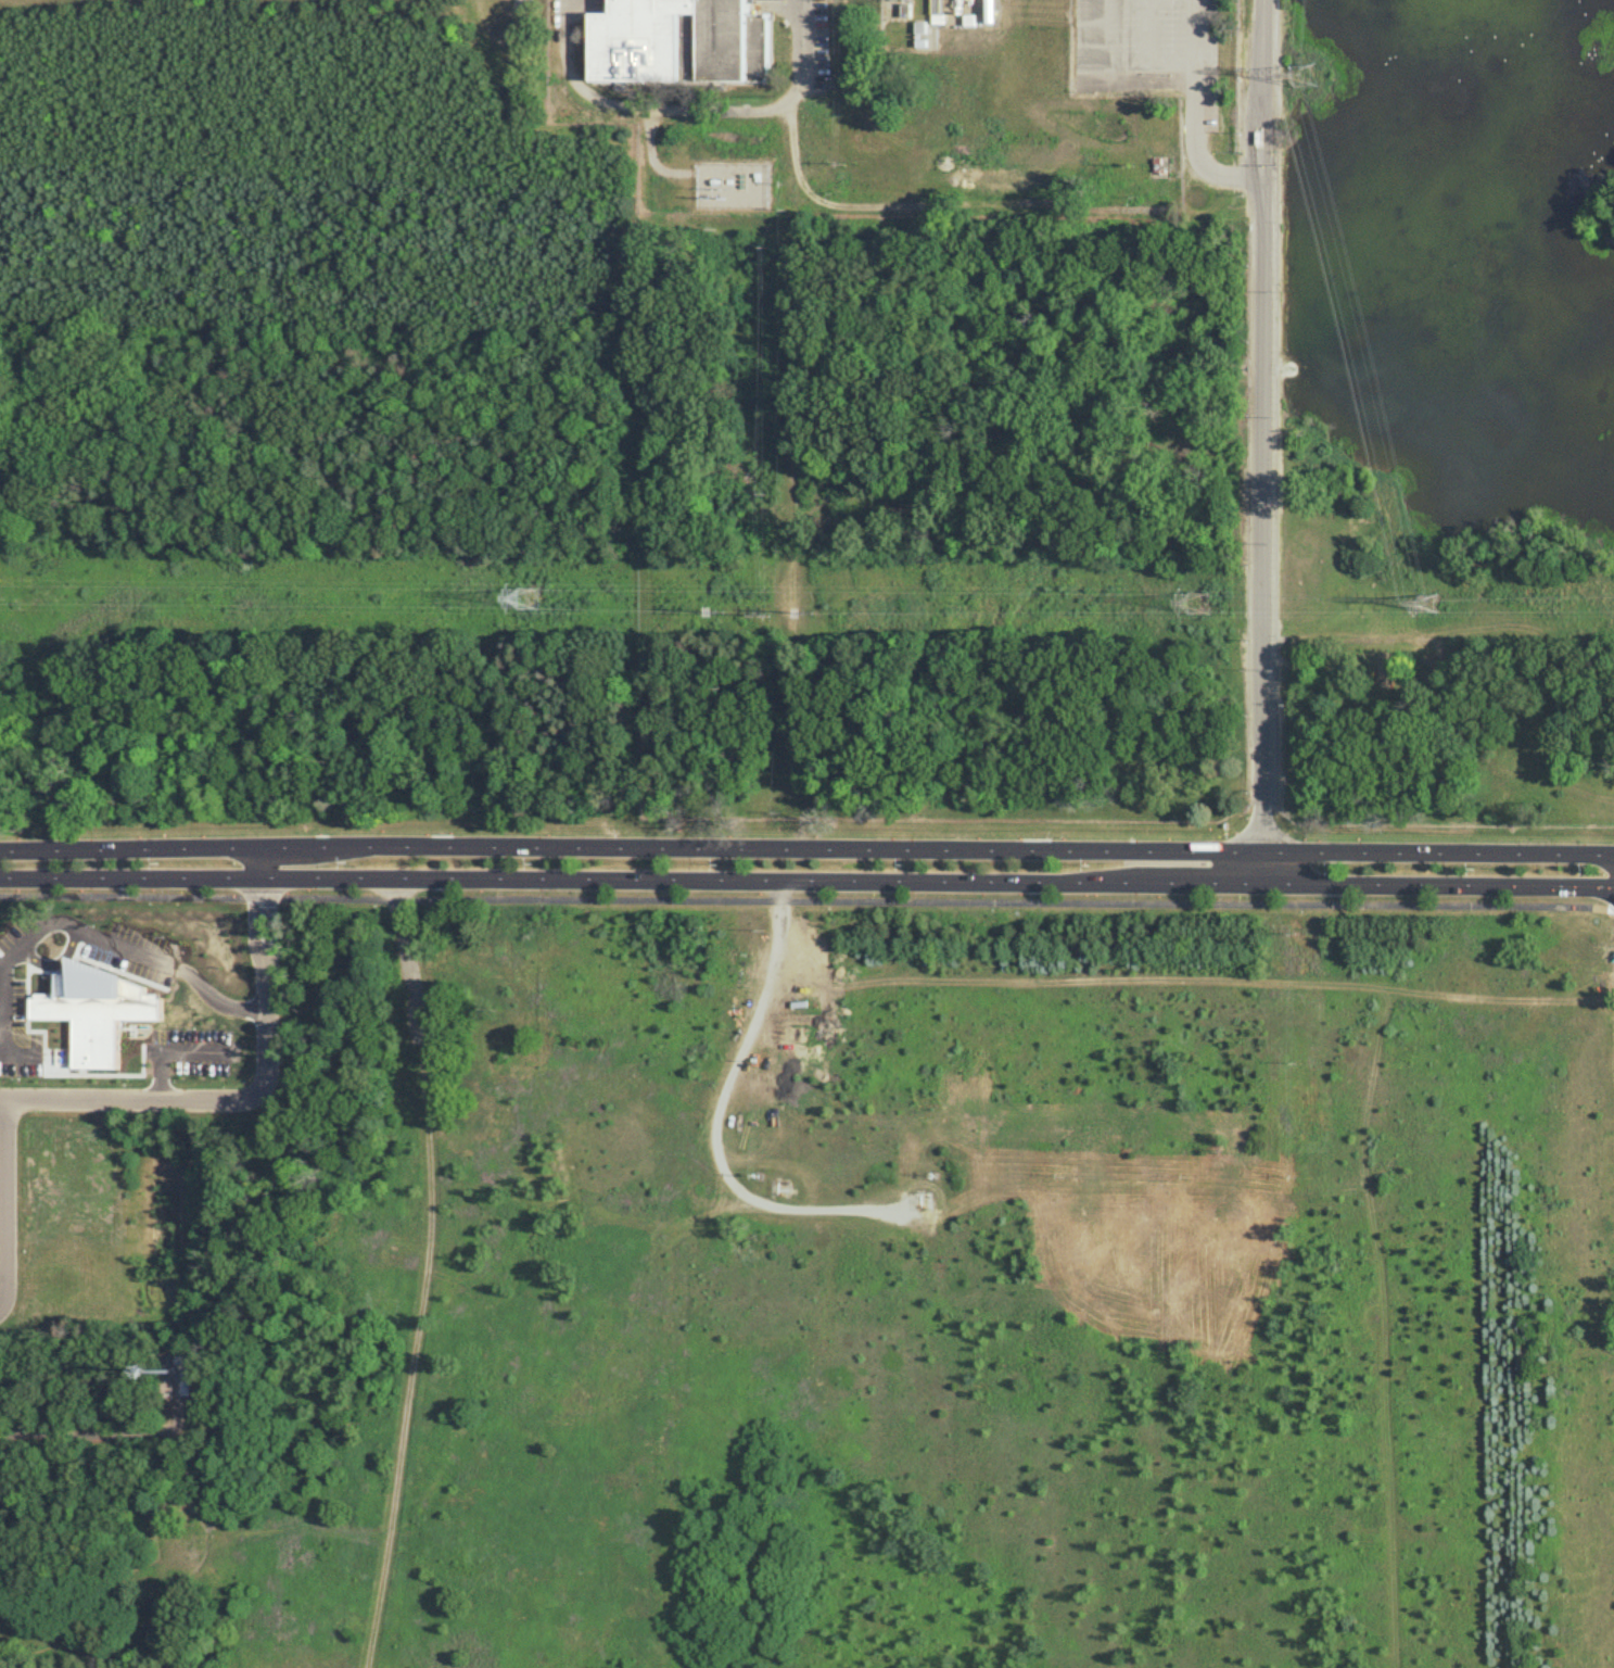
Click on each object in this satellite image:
building: (936, 11)
road: (1145, 35)
road: (1192, 35)
building: (677, 41)
road: (1108, 69)
power tower: (1306, 75)
road: (1191, 101)
road: (687, 111)
road: (649, 156)
road: (1215, 172)
road: (938, 206)
road: (1263, 443)
power tower: (523, 601)
power tower: (1197, 604)
power tower: (1427, 608)
road: (1513, 624)
road: (806, 850)
road: (258, 864)
road: (129, 881)
road: (937, 883)
road: (806, 906)
road: (1179, 982)
road: (238, 1102)
road: (719, 1119)
road: (4, 1206)
road: (430, 1275)

